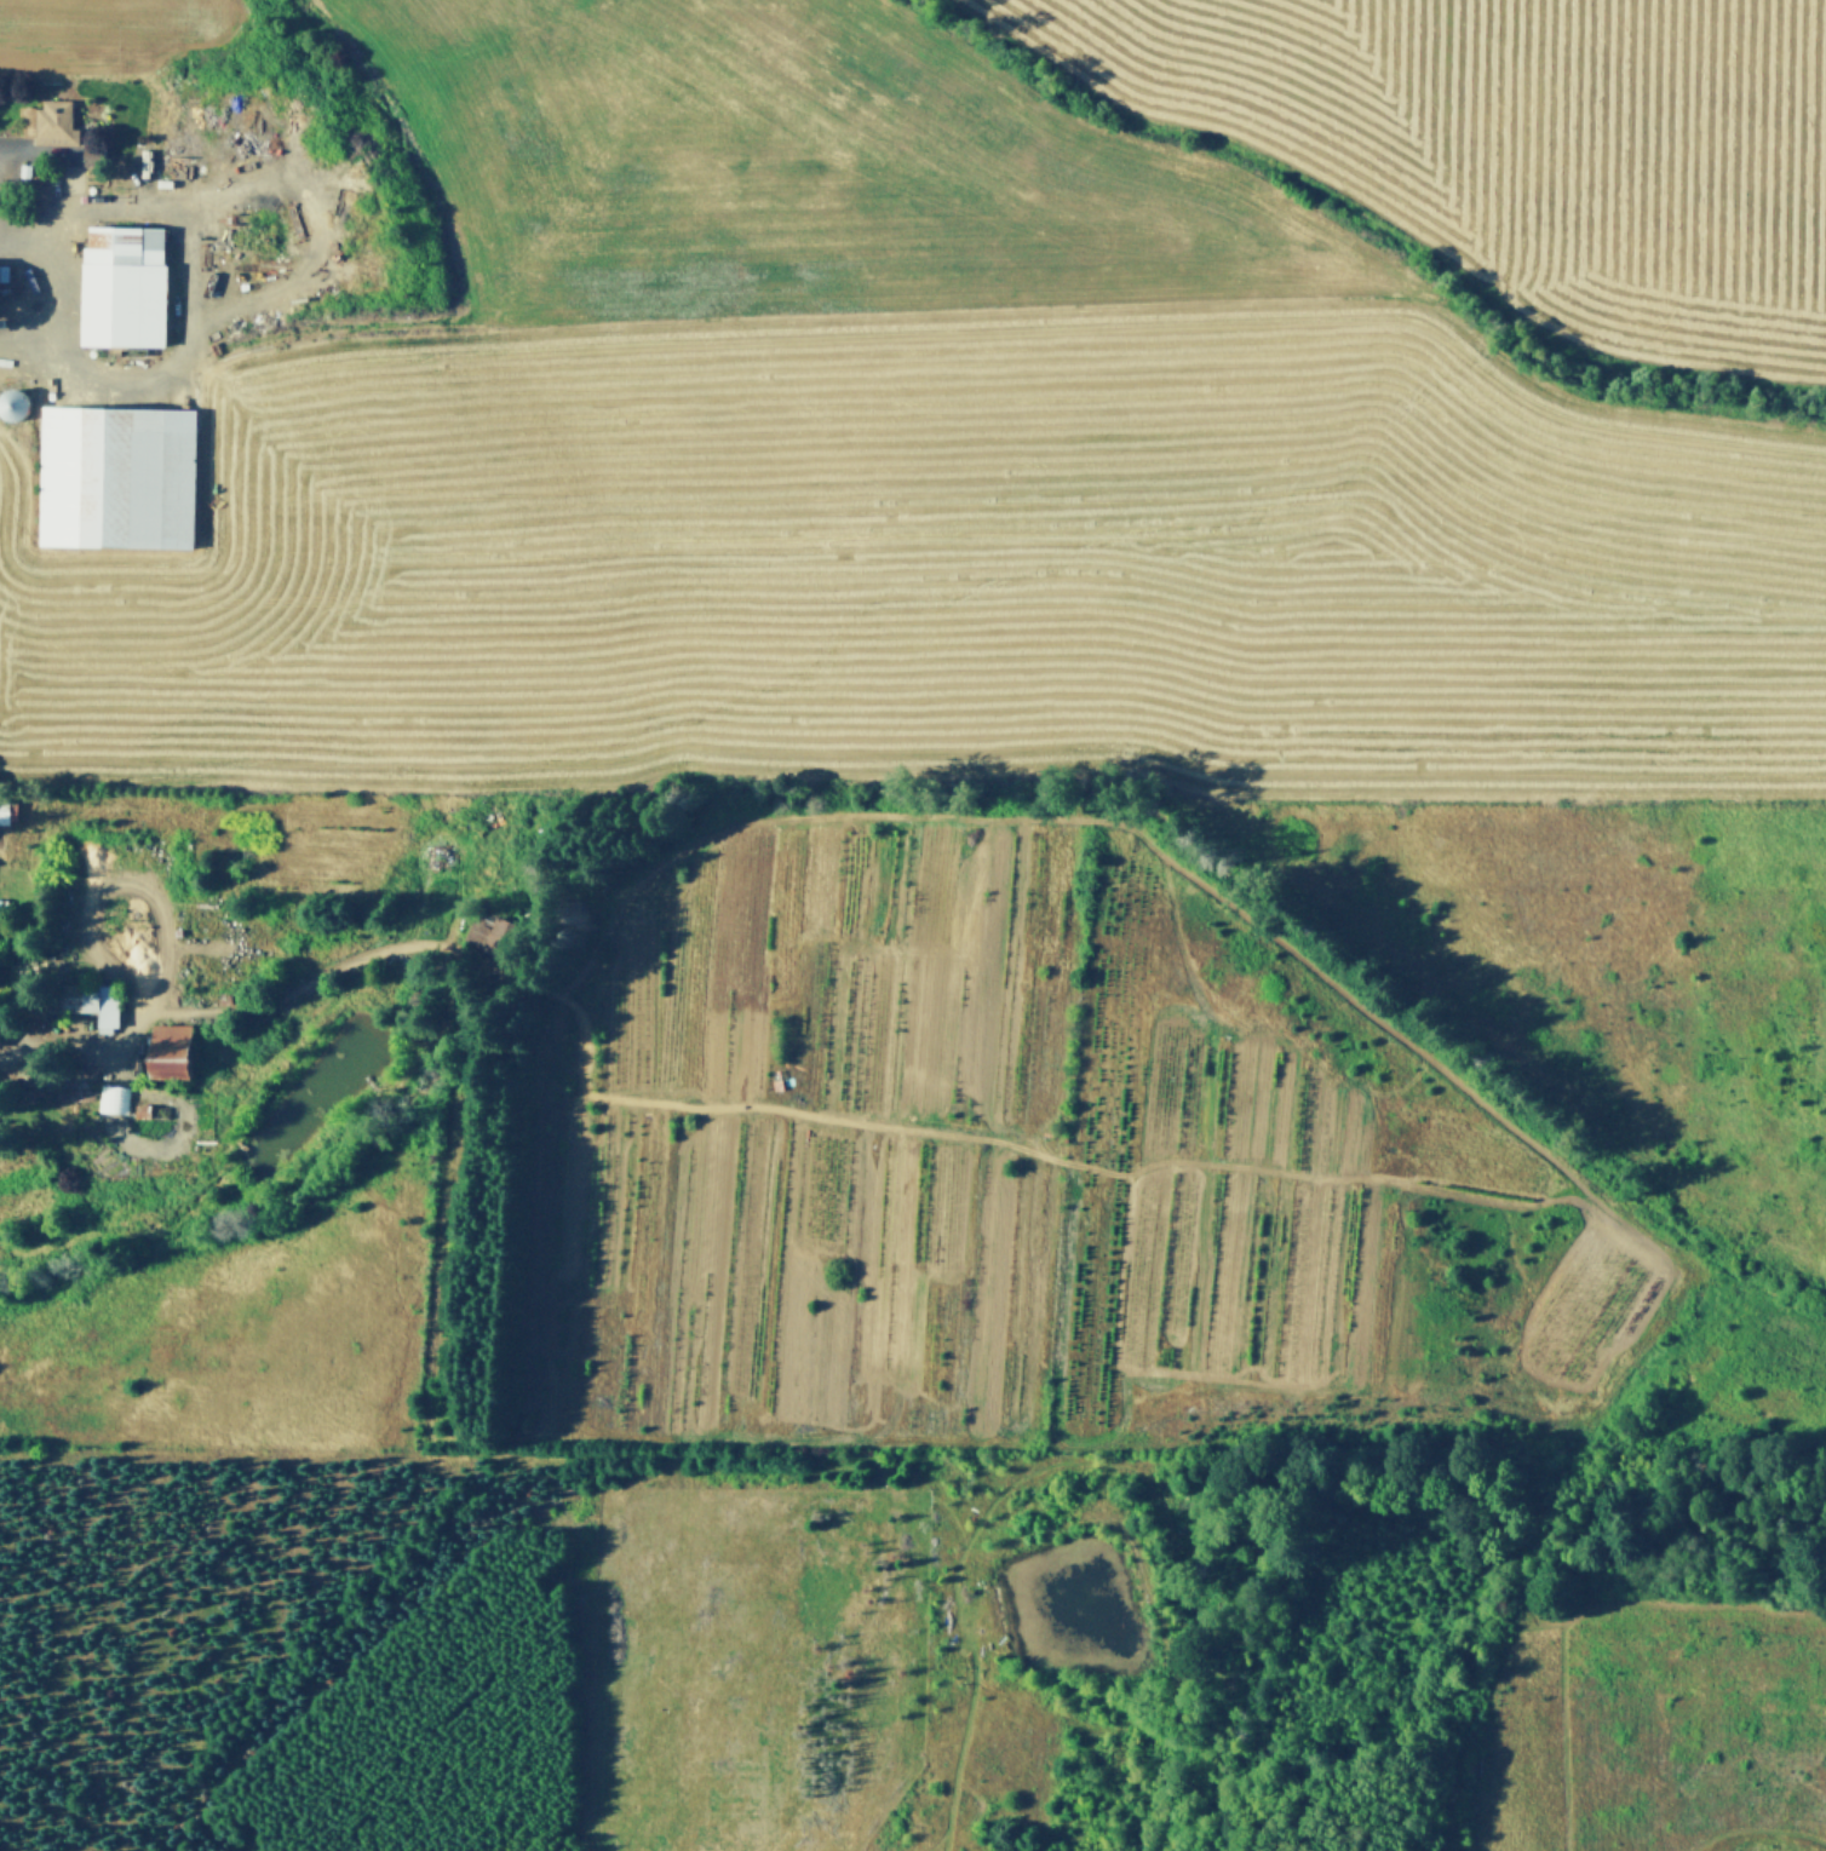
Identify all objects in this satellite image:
crop: (1319, 102)
building: (47, 119)
road: (36, 148)
building: (92, 148)
building: (23, 166)
crop: (797, 167)
building: (163, 179)
road: (64, 182)
crop: (1666, 183)
road: (316, 219)
building: (2, 268)
building: (122, 281)
road: (197, 286)
road: (41, 291)
building: (17, 404)
building: (114, 471)
crop: (937, 564)
building: (8, 809)
road: (90, 899)
building: (6, 901)
building: (484, 937)
road: (218, 944)
building: (208, 993)
road: (281, 993)
building: (86, 996)
building: (0, 1036)
building: (168, 1047)
building: (27, 1069)
building: (25, 1090)
building: (70, 1091)
building: (114, 1099)
building: (140, 1105)
road: (357, 1113)
building: (1045, 1132)
crop: (928, 1152)
road: (432, 1278)

